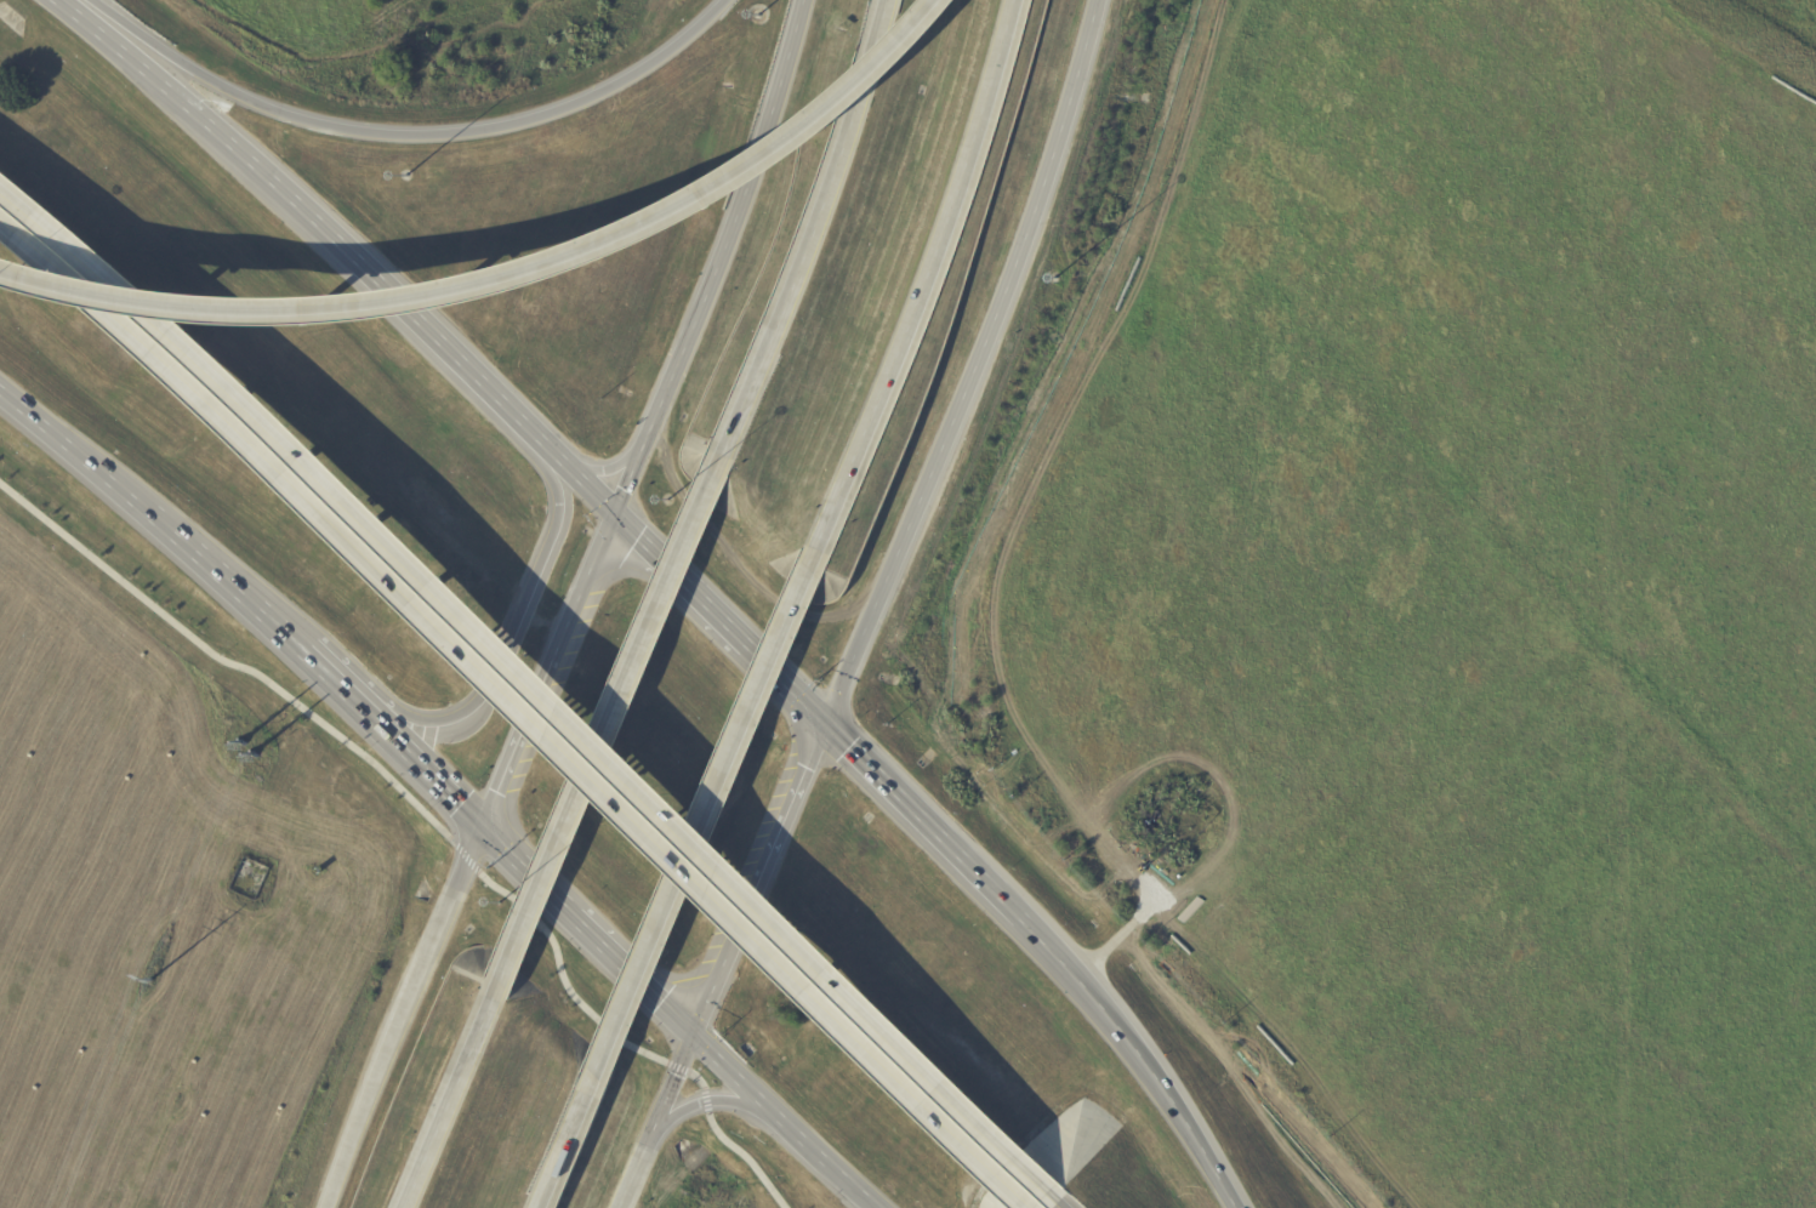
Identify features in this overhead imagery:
road: (63, 11)
road: (410, 135)
road: (220, 141)
road: (816, 232)
road: (718, 262)
road: (508, 278)
road: (921, 278)
road: (450, 358)
road: (978, 367)
road: (221, 377)
road: (212, 406)
road: (76, 448)
road: (608, 471)
road: (579, 483)
traffic signals: (613, 518)
road: (229, 581)
road: (679, 583)
road: (581, 591)
road: (509, 633)
road: (229, 665)
road: (335, 679)
road: (785, 688)
road: (610, 723)
traffic signals: (825, 726)
road: (517, 743)
power tower: (247, 750)
road: (422, 765)
road: (716, 799)
traffic signals: (483, 824)
road: (922, 824)
road: (467, 857)
road: (529, 870)
road: (758, 879)
road: (739, 888)
road: (717, 906)
road: (1070, 971)
road: (633, 974)
road: (562, 976)
power tower: (150, 980)
road: (406, 1014)
traffic signals: (693, 1032)
road: (677, 1069)
road: (698, 1078)
road: (672, 1082)
road: (761, 1095)
road: (452, 1098)
road: (705, 1100)
road: (708, 1101)
road: (1180, 1115)
road: (581, 1126)
road: (746, 1157)
road: (634, 1170)
road: (855, 1184)
road: (1055, 1200)

